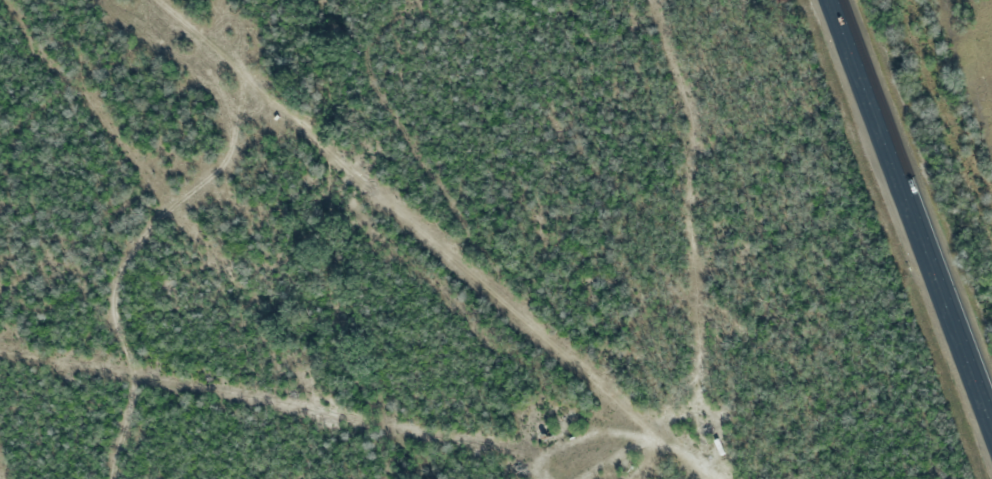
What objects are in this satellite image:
road: (913, 209)
road: (620, 435)
road: (612, 458)

